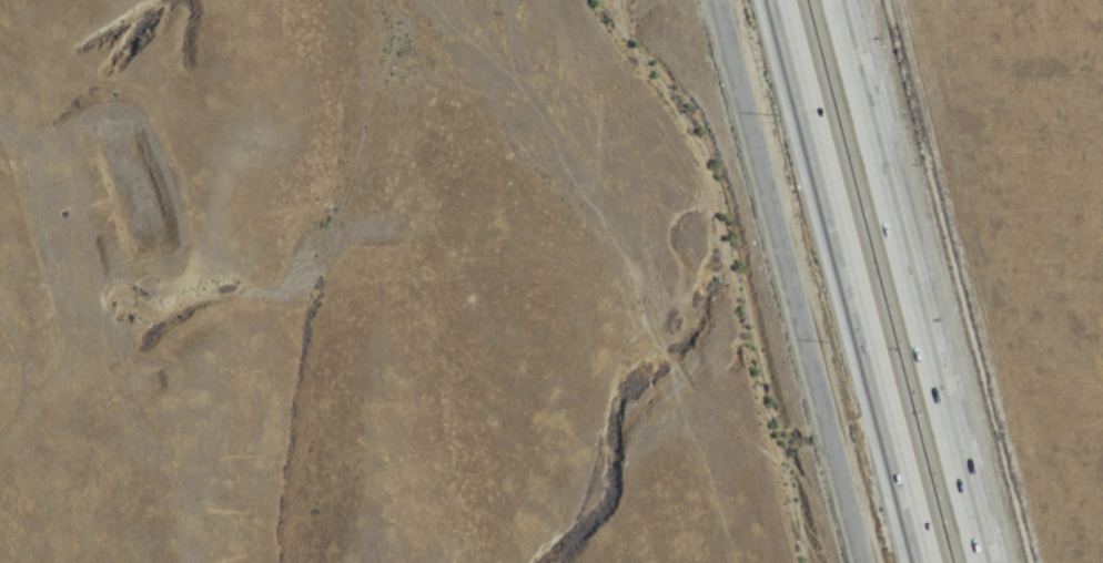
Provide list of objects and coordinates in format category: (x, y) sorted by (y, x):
crop: (1043, 207)
road: (911, 280)
road: (793, 281)
road: (850, 281)

